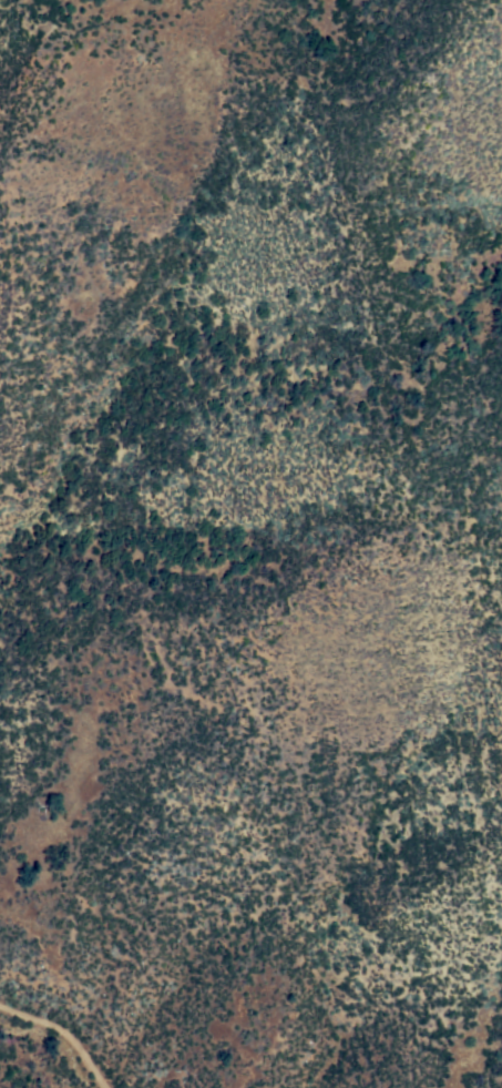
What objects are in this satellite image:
road: (63, 1033)

